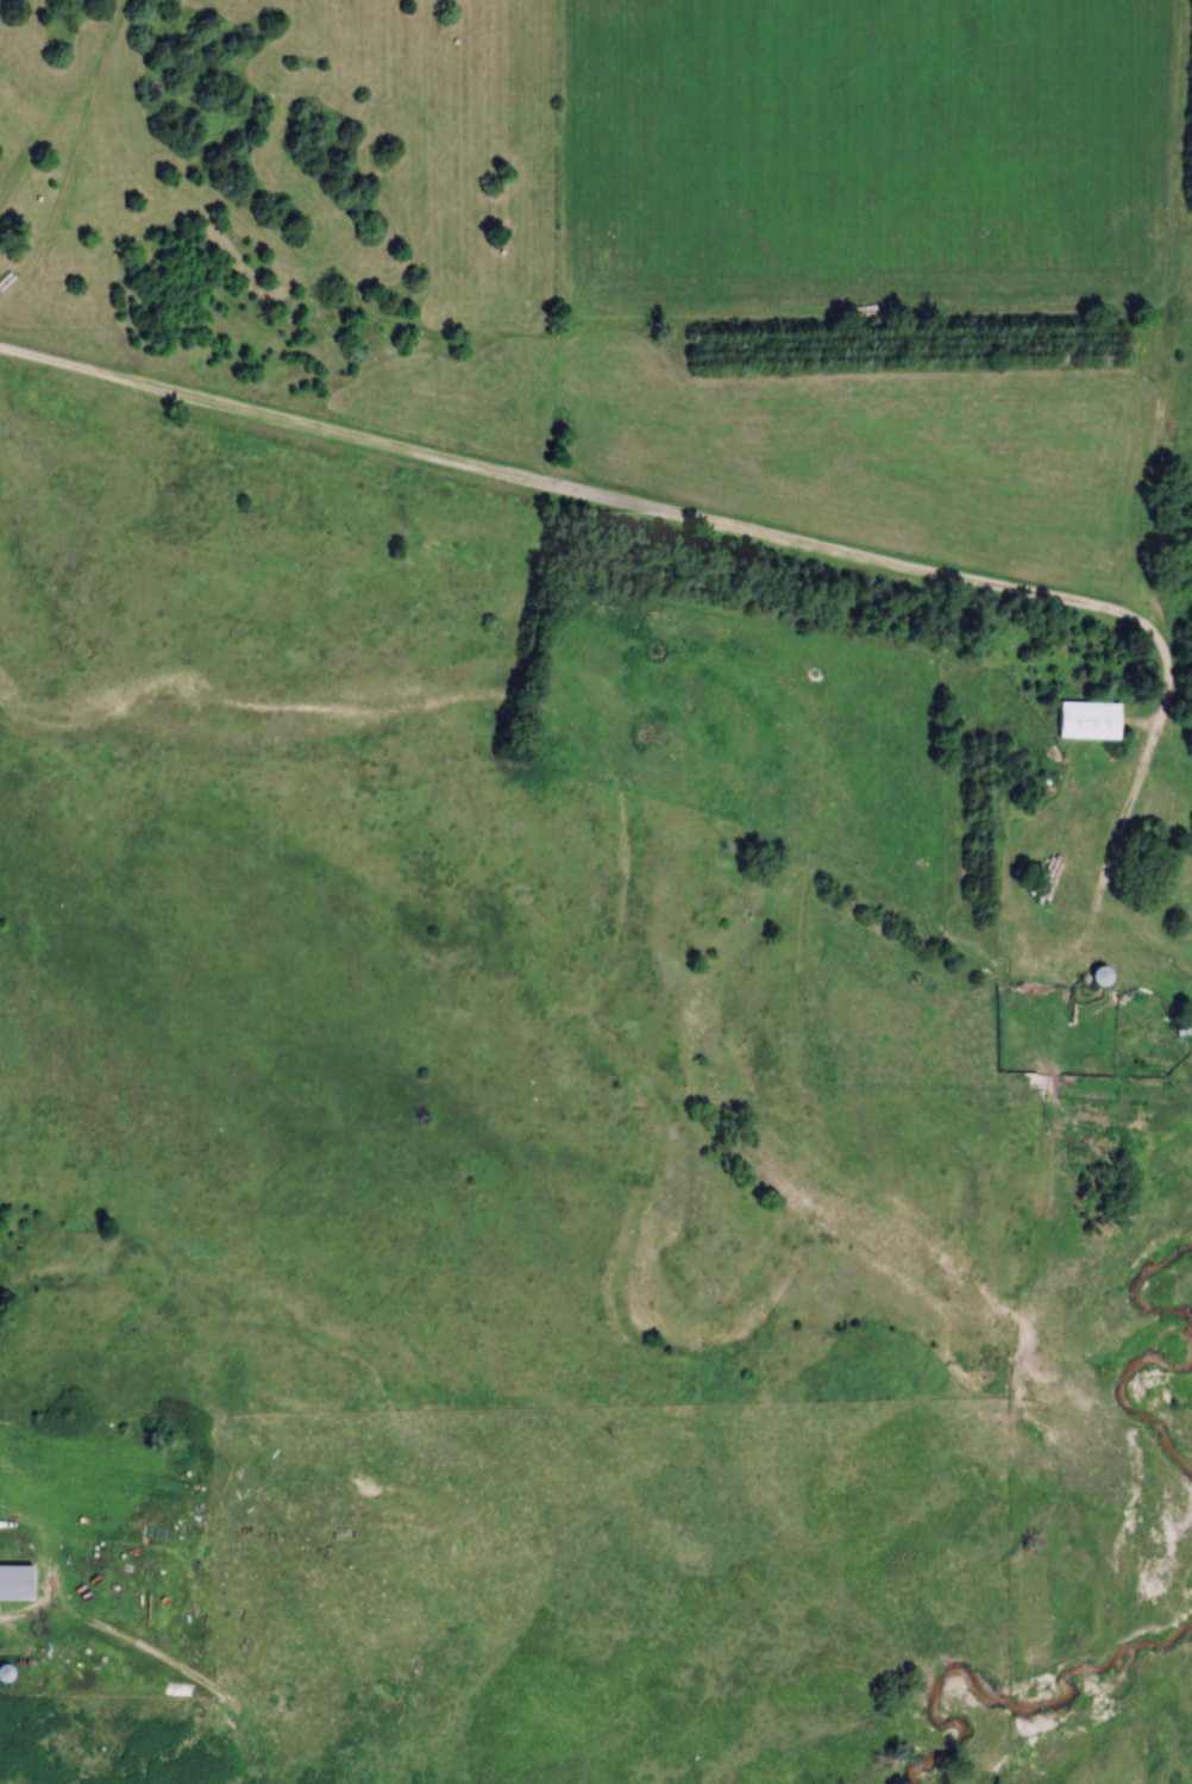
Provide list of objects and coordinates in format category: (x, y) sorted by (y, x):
road: (573, 496)
road: (1153, 520)
building: (1097, 720)
building: (1187, 1033)
building: (20, 1584)

